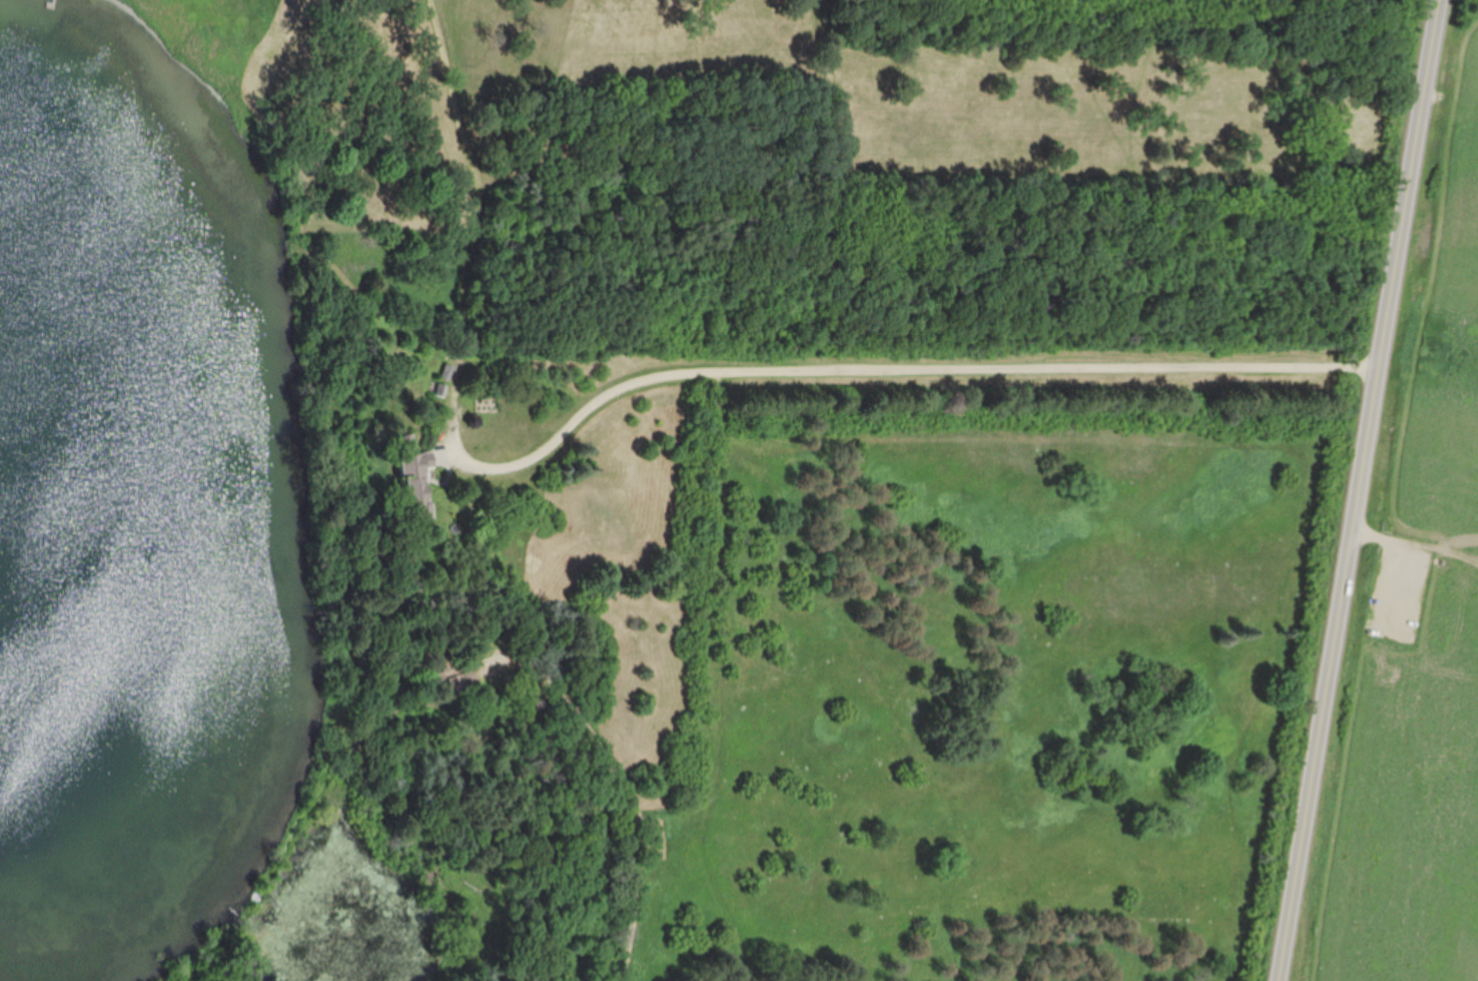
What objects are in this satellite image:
road: (1426, 299)
road: (669, 370)
building: (415, 483)
road: (1357, 490)
road: (1443, 550)
road: (1404, 559)
parking lot: (1398, 589)
building: (468, 677)
road: (1347, 736)
road: (630, 790)

